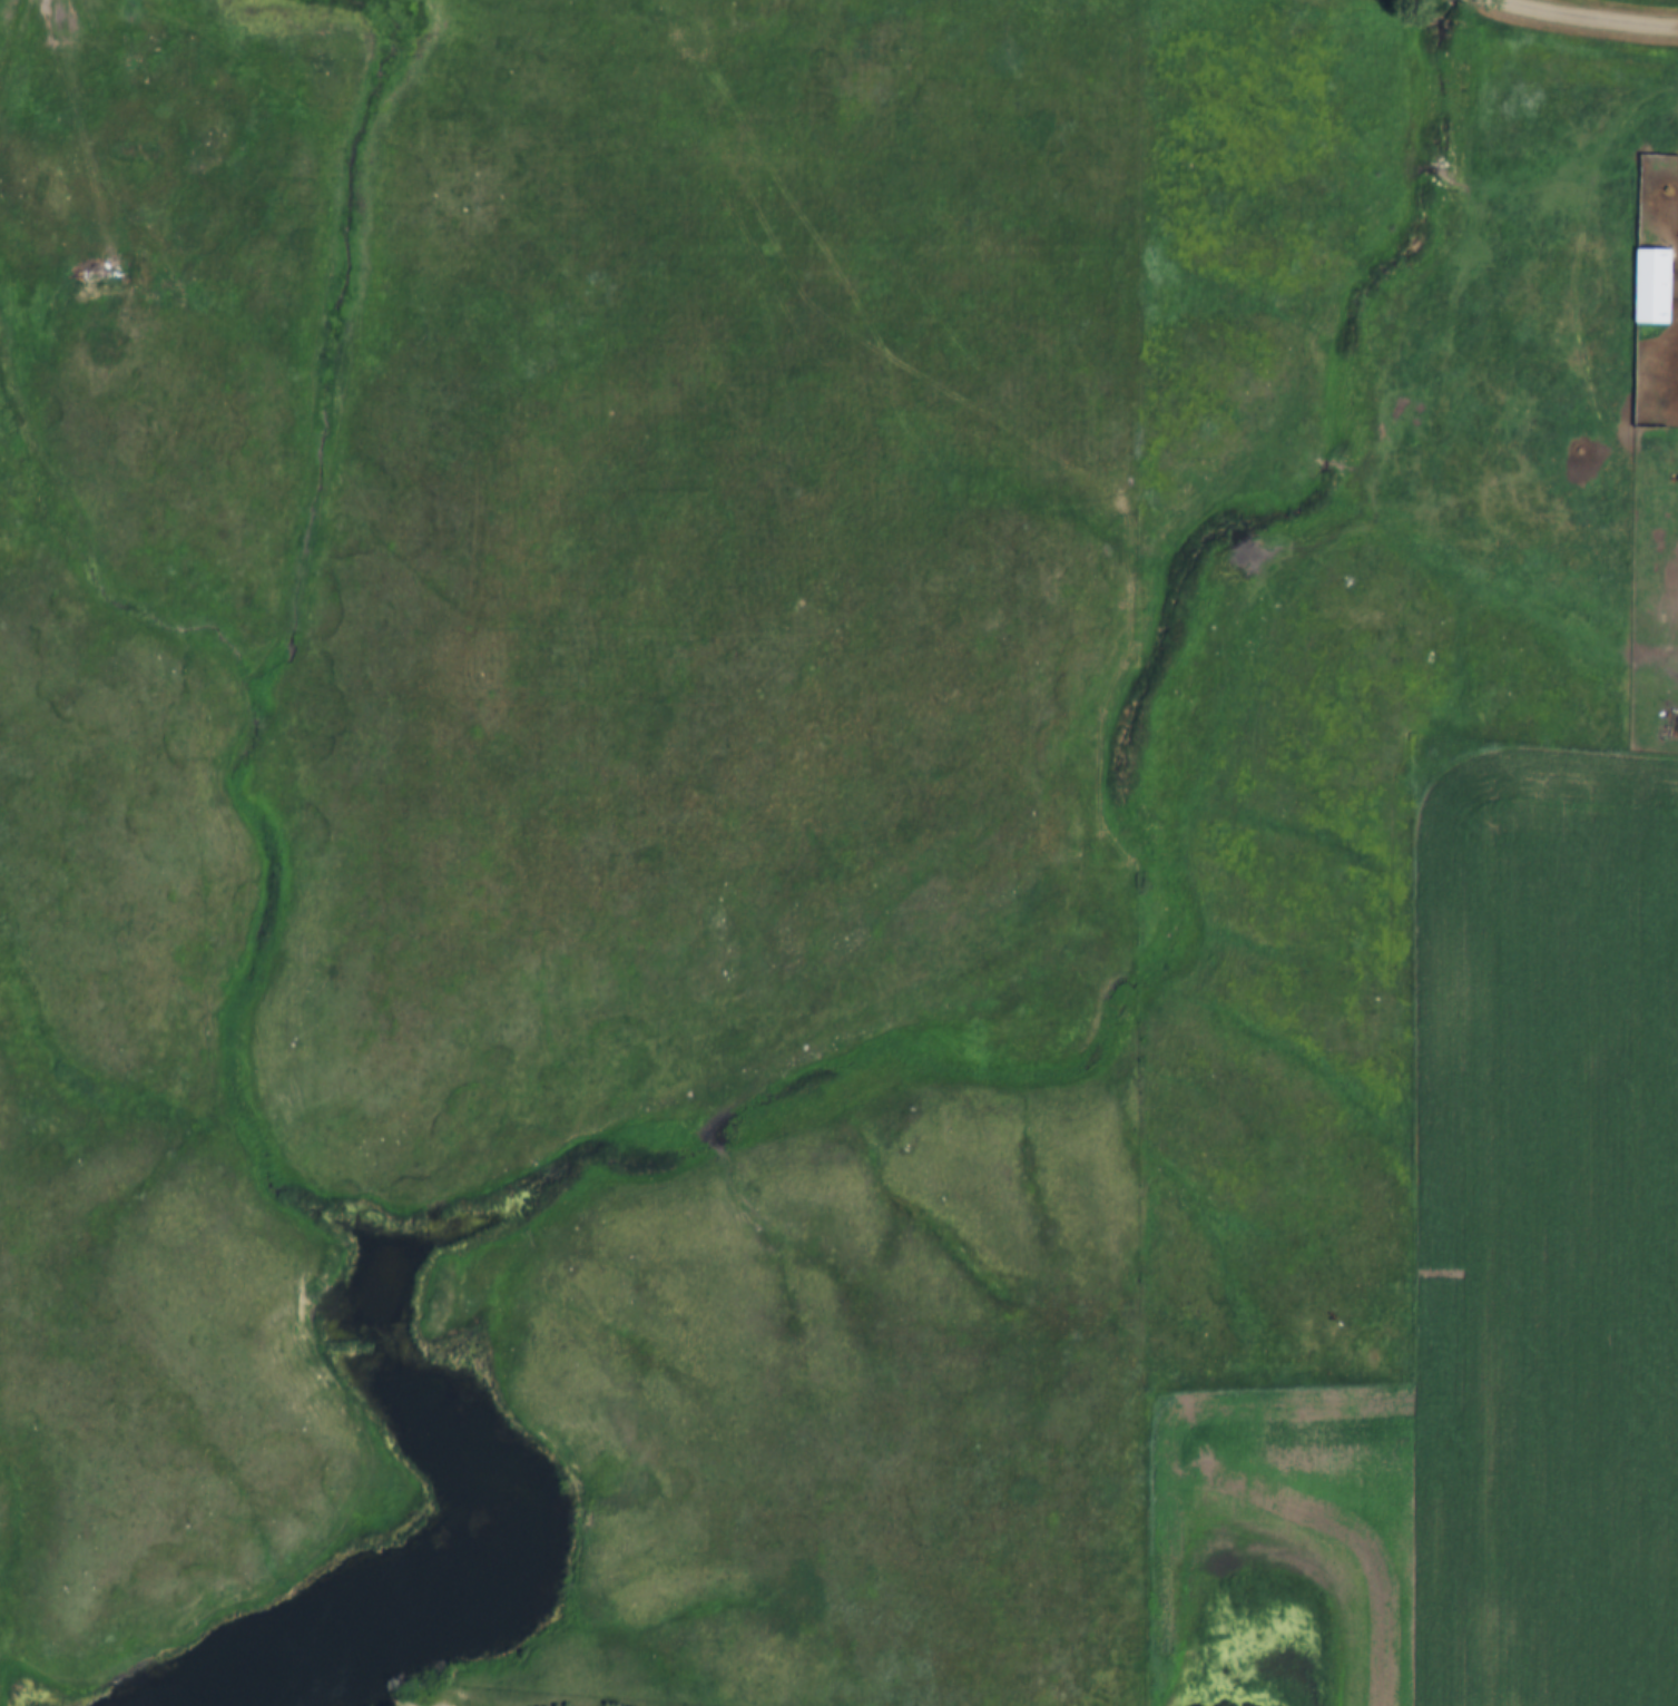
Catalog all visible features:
road: (1587, 20)
building: (1658, 287)
road: (402, 1704)

